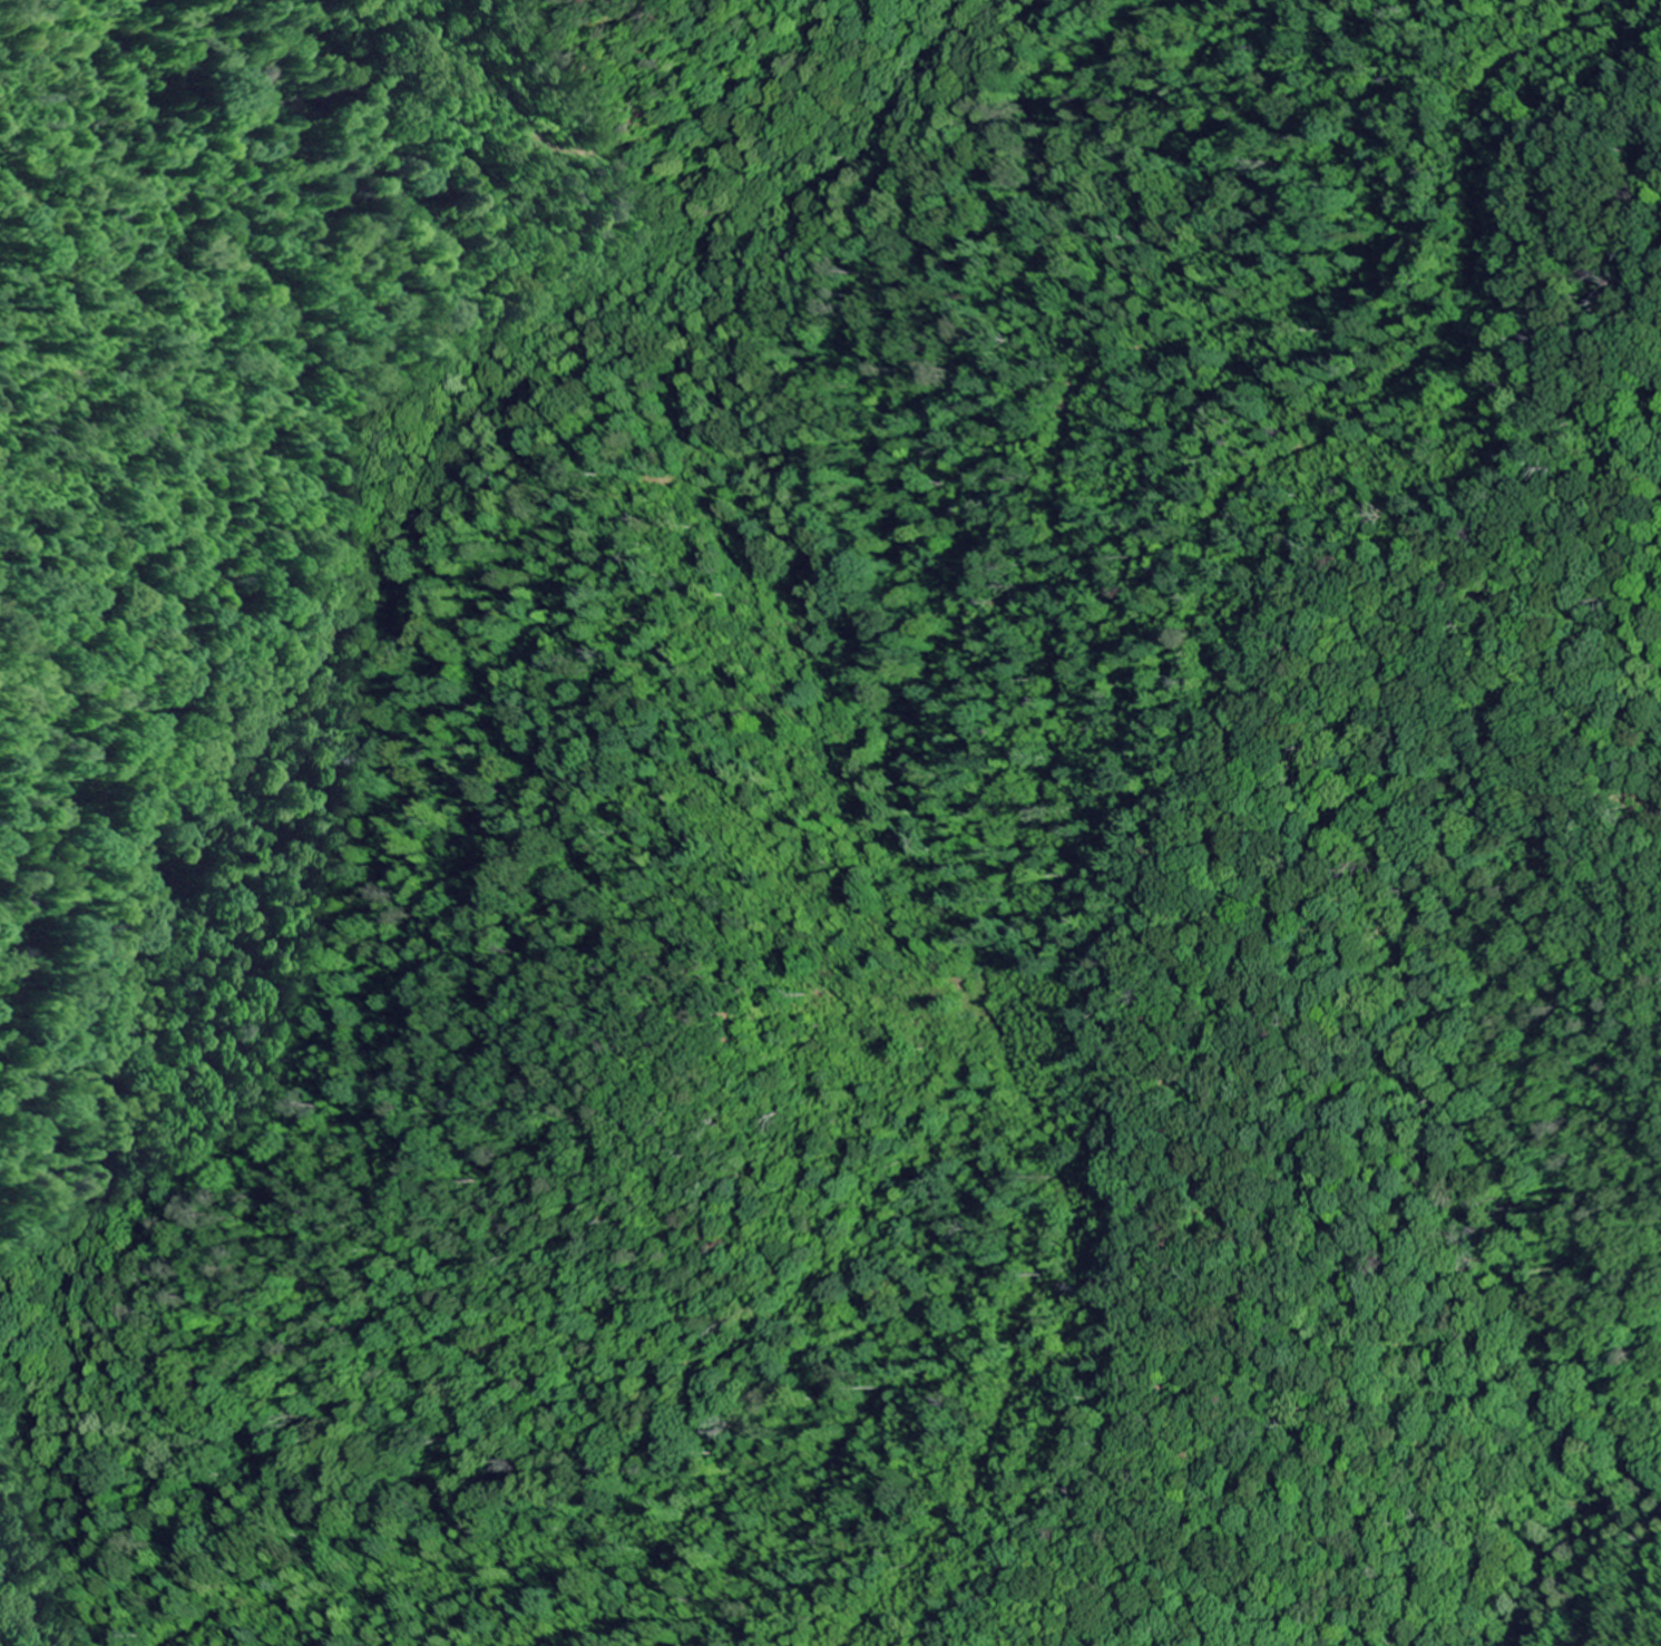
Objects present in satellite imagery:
road: (1647, 1632)

